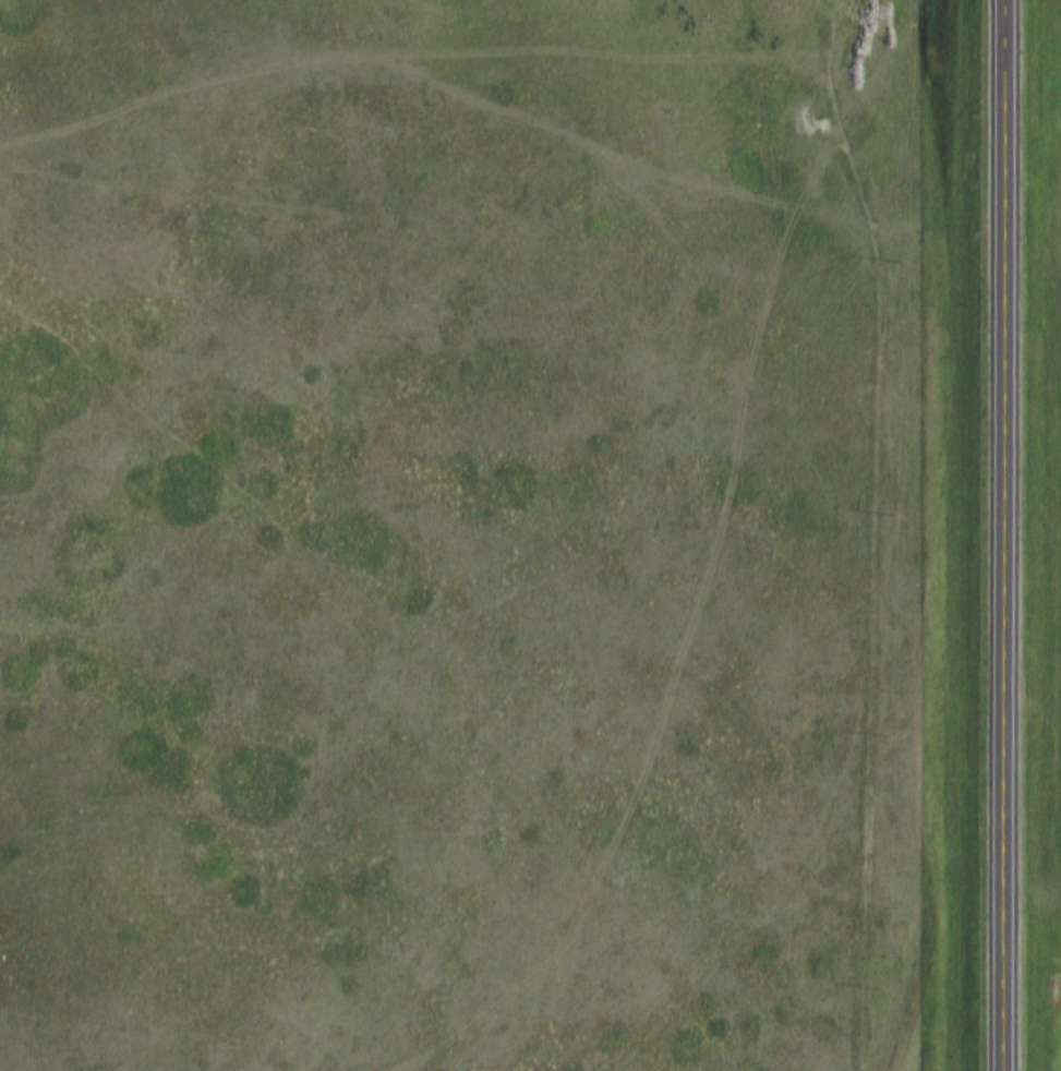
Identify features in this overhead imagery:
road: (1005, 535)

